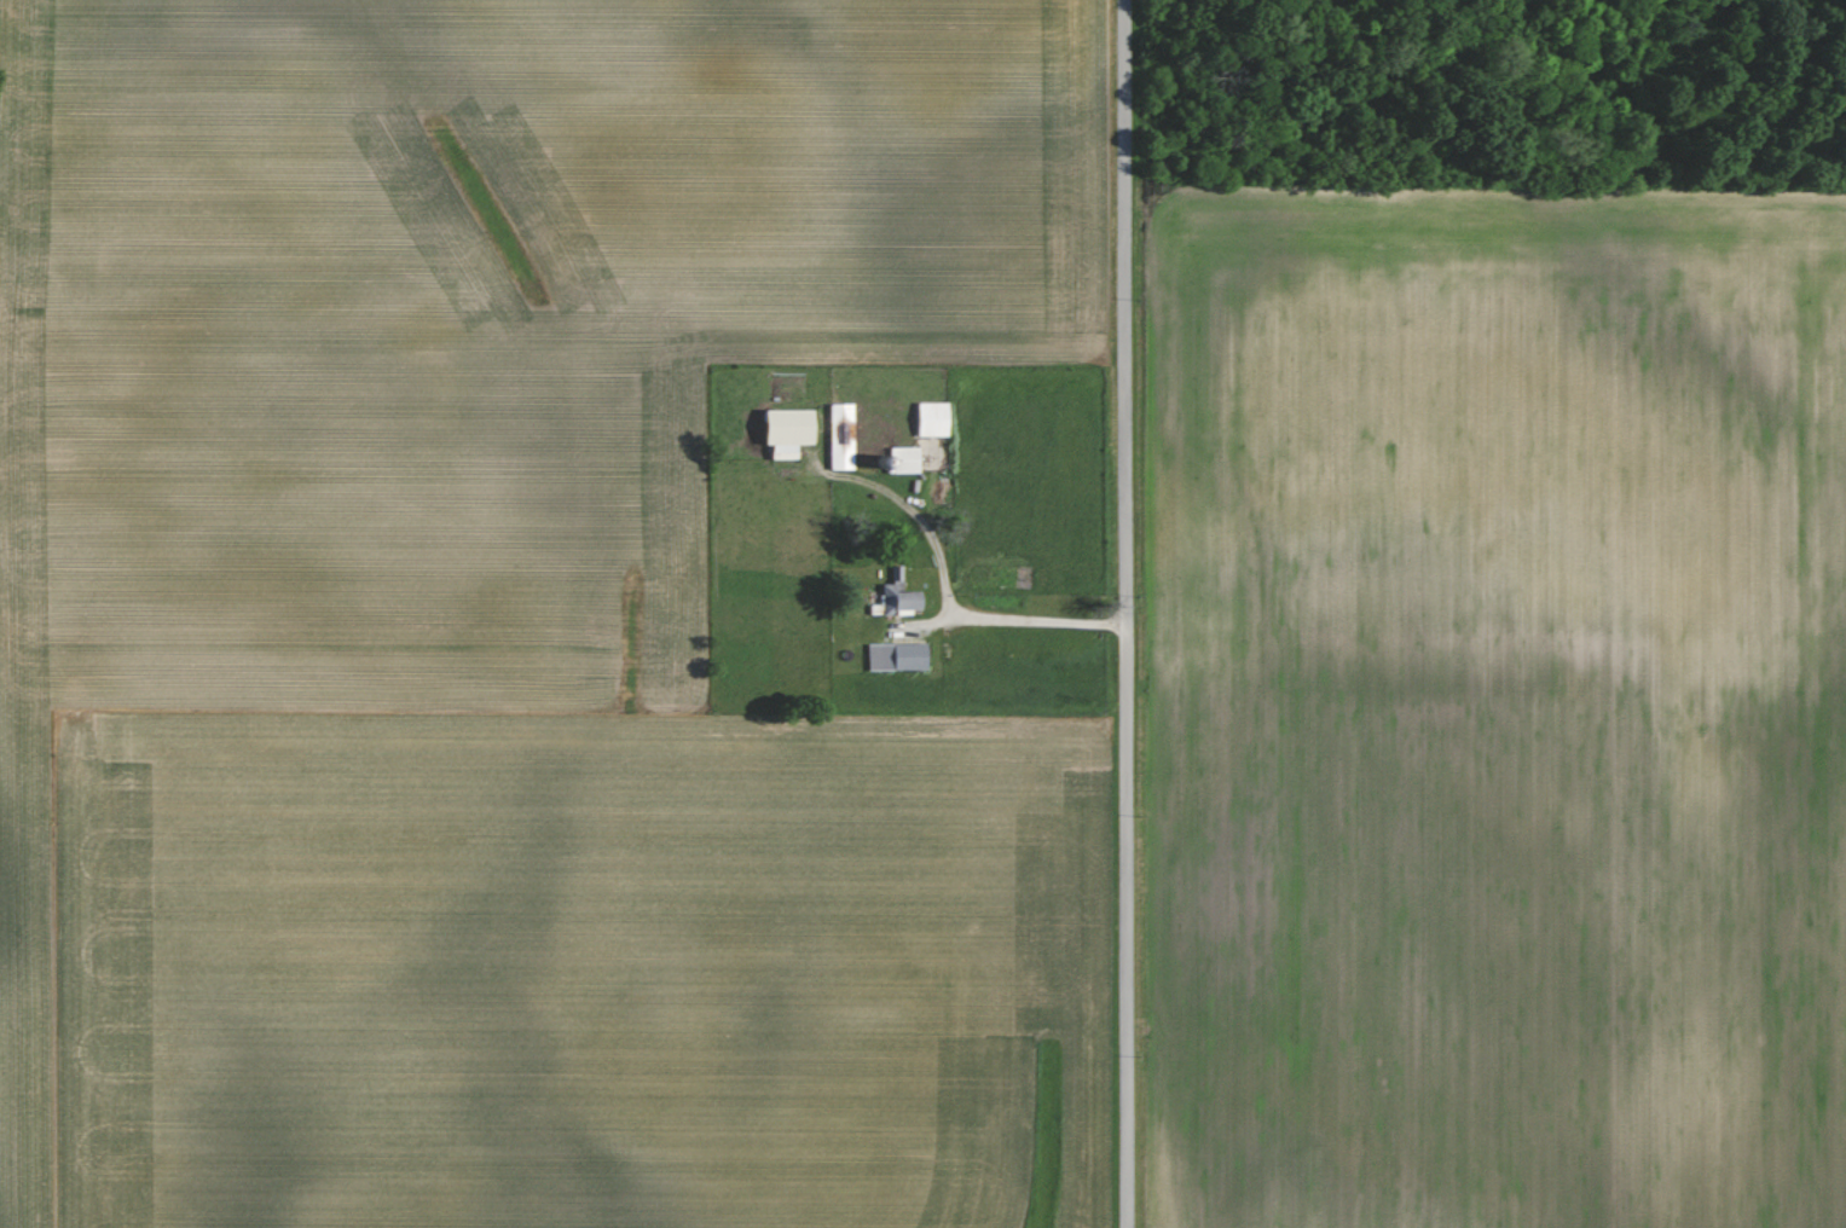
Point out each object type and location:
building: (926, 419)
building: (781, 434)
building: (902, 460)
building: (891, 598)
road: (971, 613)
road: (1127, 613)
building: (893, 656)

